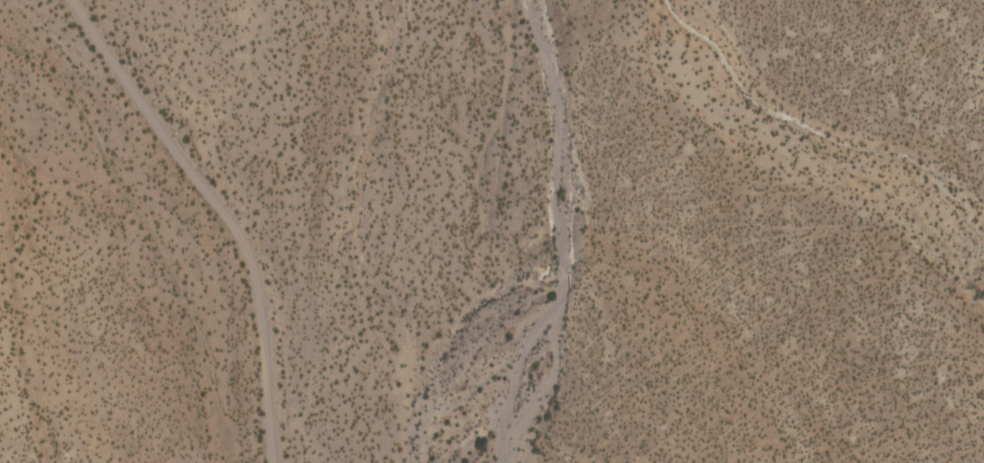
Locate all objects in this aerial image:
road: (218, 212)

